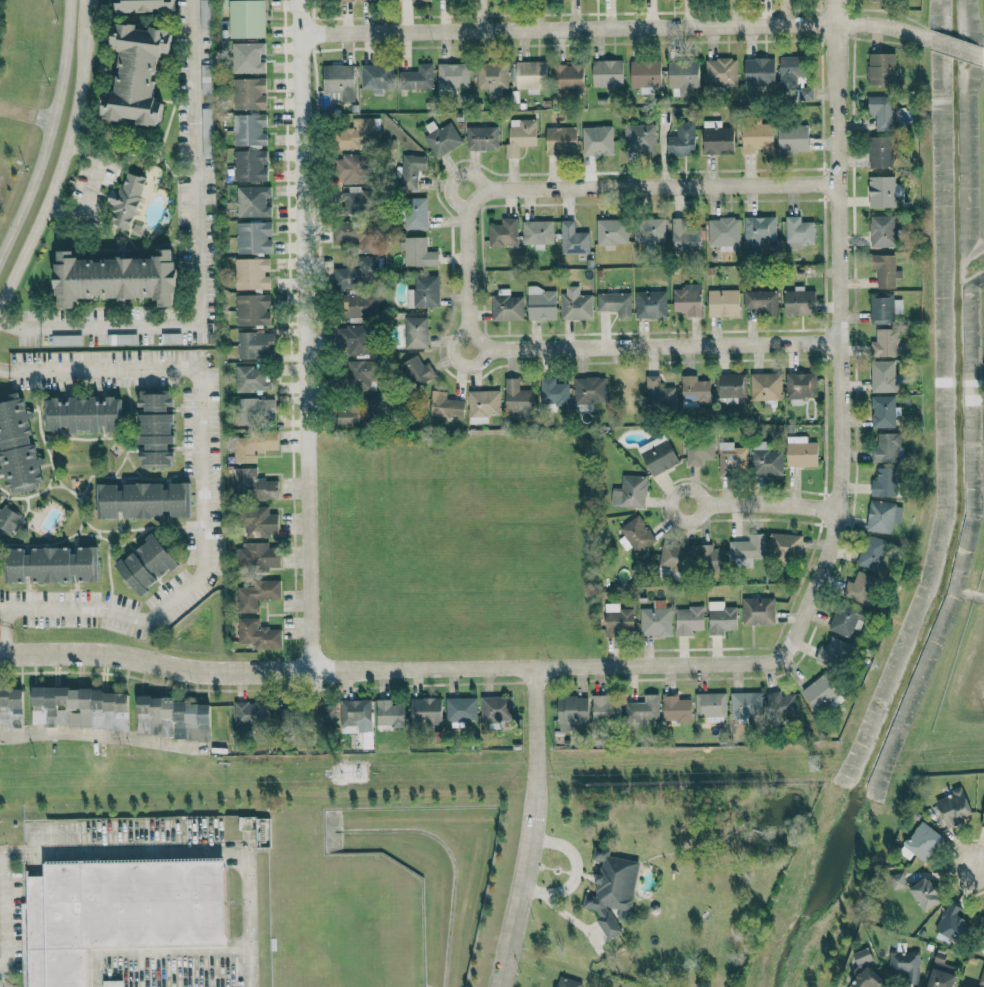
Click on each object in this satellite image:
building: (337, 0)
building: (145, 5)
building: (204, 14)
building: (246, 18)
road: (616, 27)
road: (958, 48)
building: (247, 57)
building: (881, 68)
building: (720, 71)
building: (759, 71)
building: (790, 71)
building: (137, 73)
building: (607, 73)
building: (530, 75)
building: (645, 75)
building: (683, 76)
building: (375, 77)
building: (452, 77)
building: (491, 77)
building: (567, 77)
building: (416, 78)
building: (338, 81)
building: (806, 92)
building: (248, 93)
building: (881, 111)
building: (248, 129)
building: (206, 132)
road: (51, 133)
building: (354, 134)
building: (520, 136)
building: (640, 137)
building: (717, 137)
building: (757, 137)
building: (481, 138)
building: (793, 138)
building: (442, 139)
building: (682, 139)
building: (560, 140)
building: (596, 140)
building: (879, 151)
road: (97, 163)
building: (249, 165)
road: (68, 166)
building: (349, 168)
building: (411, 170)
road: (454, 181)
road: (641, 189)
building: (881, 191)
building: (352, 200)
building: (125, 201)
building: (252, 201)
building: (415, 213)
building: (649, 229)
building: (759, 229)
building: (611, 231)
building: (723, 231)
building: (881, 231)
building: (503, 232)
building: (537, 232)
building: (798, 232)
building: (352, 234)
building: (684, 235)
road: (198, 237)
building: (253, 237)
building: (572, 239)
building: (417, 252)
building: (884, 270)
building: (354, 272)
building: (251, 273)
building: (116, 277)
building: (423, 292)
road: (472, 296)
building: (688, 299)
building: (761, 301)
building: (799, 301)
building: (723, 302)
building: (541, 303)
building: (614, 303)
building: (575, 304)
building: (650, 304)
building: (358, 305)
building: (506, 305)
building: (884, 308)
building: (251, 309)
road: (19, 324)
building: (415, 332)
road: (841, 333)
road: (306, 335)
building: (353, 339)
building: (66, 340)
building: (885, 343)
building: (253, 344)
road: (665, 348)
building: (417, 372)
building: (361, 374)
building: (882, 376)
building: (252, 379)
building: (732, 385)
building: (801, 385)
building: (766, 386)
building: (590, 389)
building: (694, 390)
building: (553, 392)
building: (658, 393)
building: (155, 399)
building: (519, 399)
building: (447, 405)
building: (483, 405)
building: (256, 409)
building: (883, 411)
building: (361, 412)
building: (84, 414)
building: (156, 439)
building: (17, 445)
building: (254, 445)
building: (888, 447)
building: (801, 452)
building: (699, 453)
building: (658, 455)
building: (731, 459)
building: (767, 462)
road: (201, 482)
building: (885, 482)
building: (256, 483)
building: (630, 492)
building: (143, 499)
road: (766, 509)
building: (883, 516)
building: (9, 519)
building: (260, 522)
building: (636, 535)
building: (785, 545)
building: (748, 548)
building: (873, 553)
building: (260, 555)
building: (676, 557)
building: (711, 559)
building: (51, 564)
building: (146, 564)
building: (860, 587)
building: (257, 595)
building: (758, 611)
building: (721, 618)
building: (846, 619)
building: (618, 620)
building: (656, 620)
building: (688, 620)
building: (259, 634)
road: (3, 635)
building: (831, 652)
road: (391, 669)
building: (821, 691)
building: (746, 704)
building: (782, 705)
building: (711, 706)
building: (11, 707)
building: (82, 707)
building: (605, 709)
building: (676, 709)
building: (426, 710)
building: (496, 710)
building: (642, 711)
building: (573, 712)
building: (249, 713)
building: (390, 713)
building: (356, 715)
building: (172, 718)
road: (101, 737)
power tower: (815, 762)
power tower: (339, 772)
building: (953, 807)
building: (982, 820)
road: (532, 828)
building: (921, 842)
road: (183, 859)
road: (976, 862)
building: (897, 880)
building: (612, 890)
building: (924, 894)
road: (2, 909)
building: (114, 918)
building: (952, 923)
building: (904, 966)
building: (865, 972)
building: (942, 975)
building: (982, 978)
building: (568, 982)
building: (965, 986)

